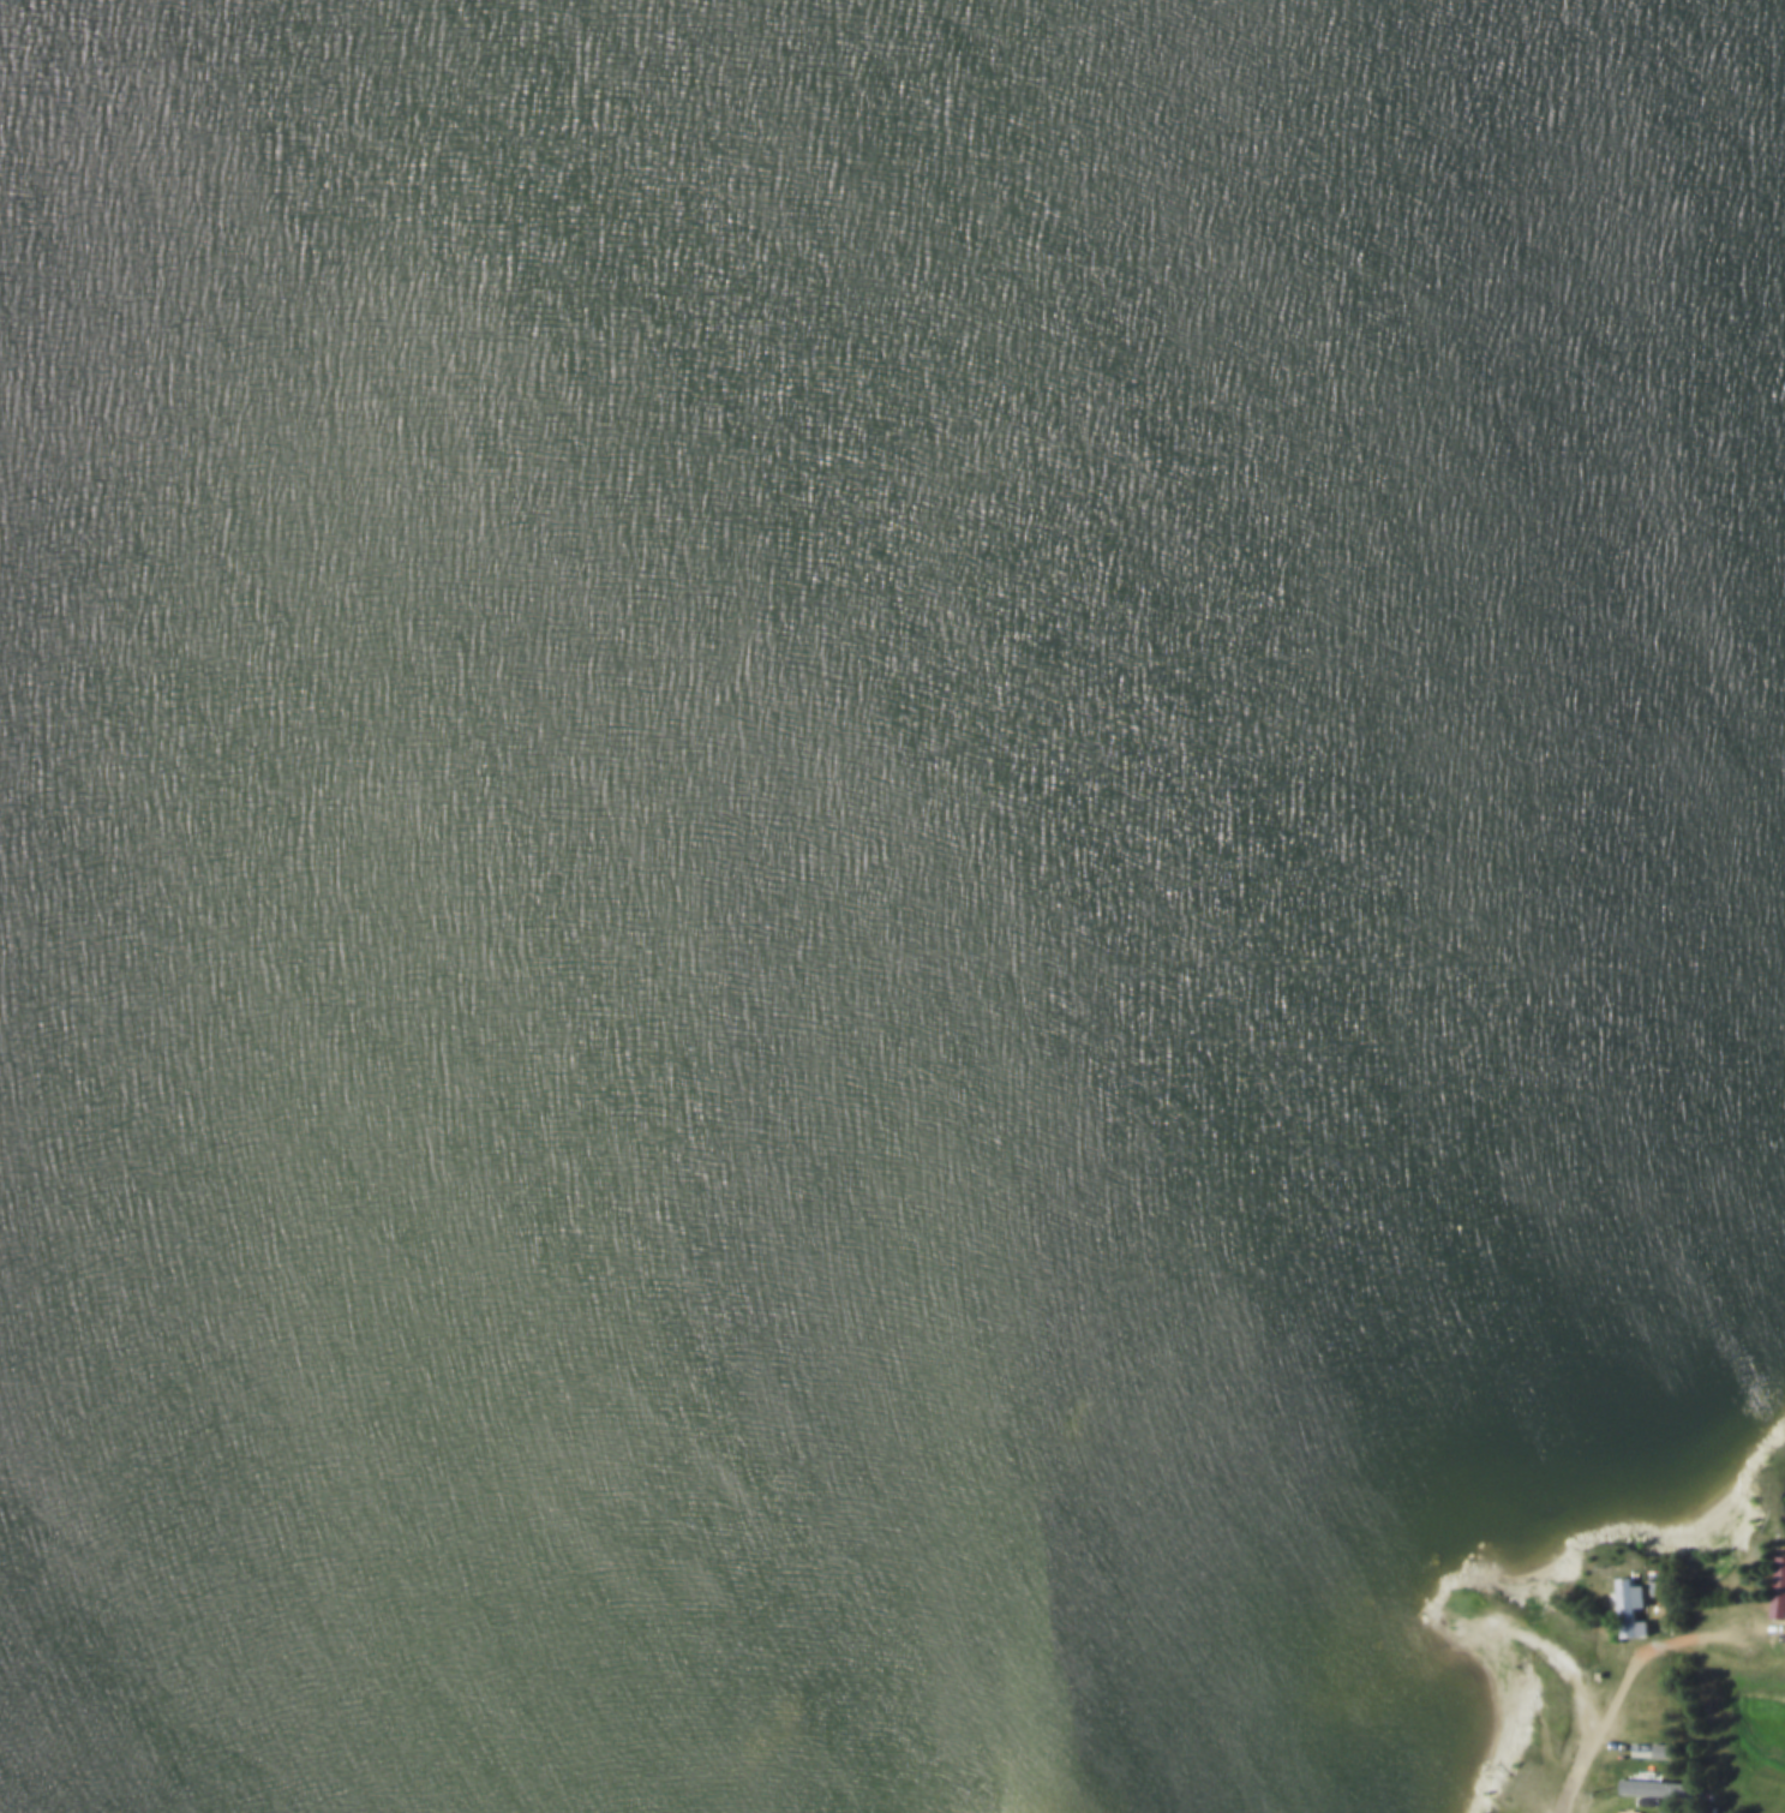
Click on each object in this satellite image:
building: (1779, 1588)
building: (1633, 1604)
road: (1653, 1656)
road: (1588, 1719)
building: (1659, 1784)
building: (1666, 1807)

